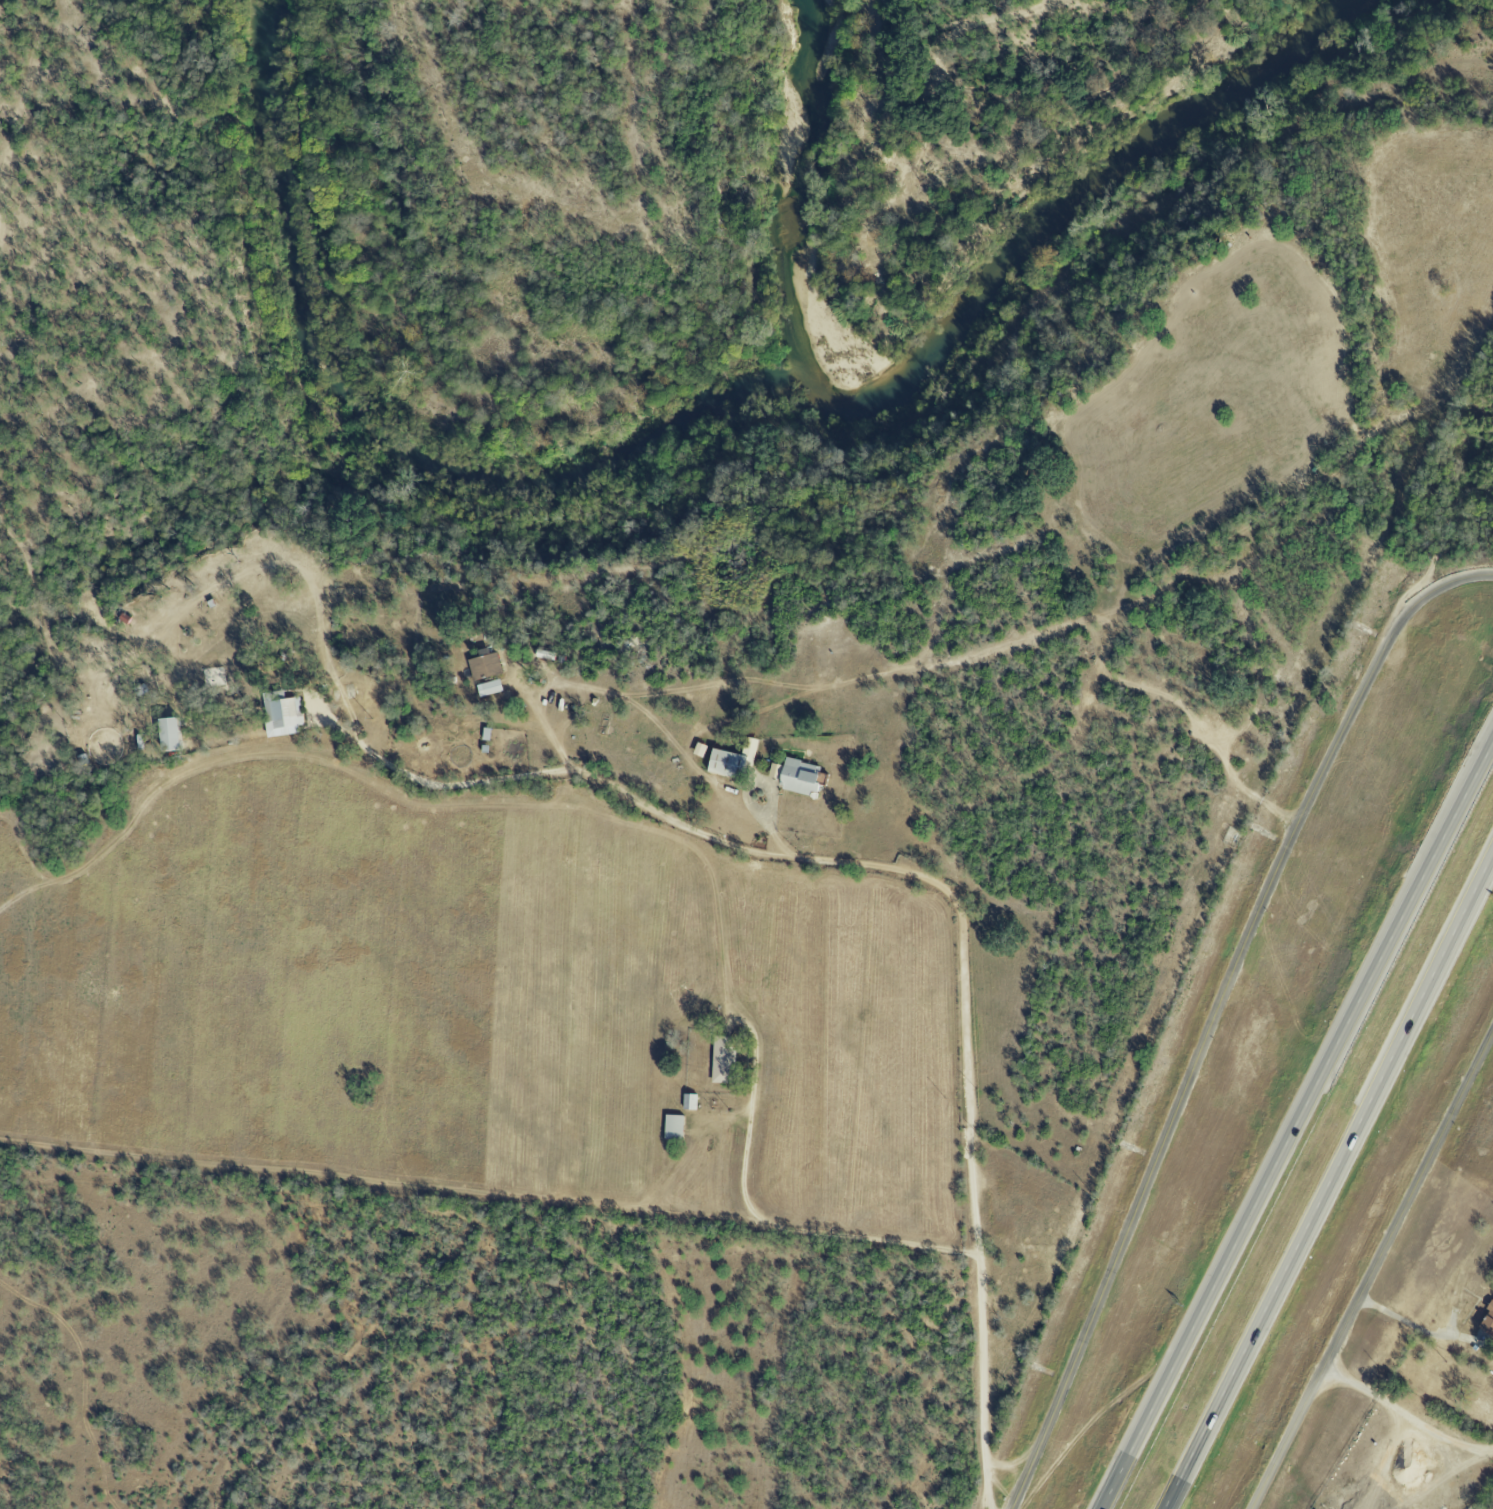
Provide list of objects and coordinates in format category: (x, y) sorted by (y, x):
river: (805, 181)
river: (1062, 203)
river: (379, 434)
building: (486, 664)
building: (491, 687)
building: (283, 714)
road: (550, 722)
building: (174, 734)
building: (702, 749)
building: (735, 761)
building: (804, 777)
road: (945, 891)
road: (1217, 1011)
building: (725, 1059)
building: (692, 1101)
road: (1298, 1126)
building: (676, 1127)
road: (1332, 1184)
road: (783, 1227)
road: (1372, 1268)
building: (1486, 1320)
road: (1417, 1323)
road: (1407, 1410)

